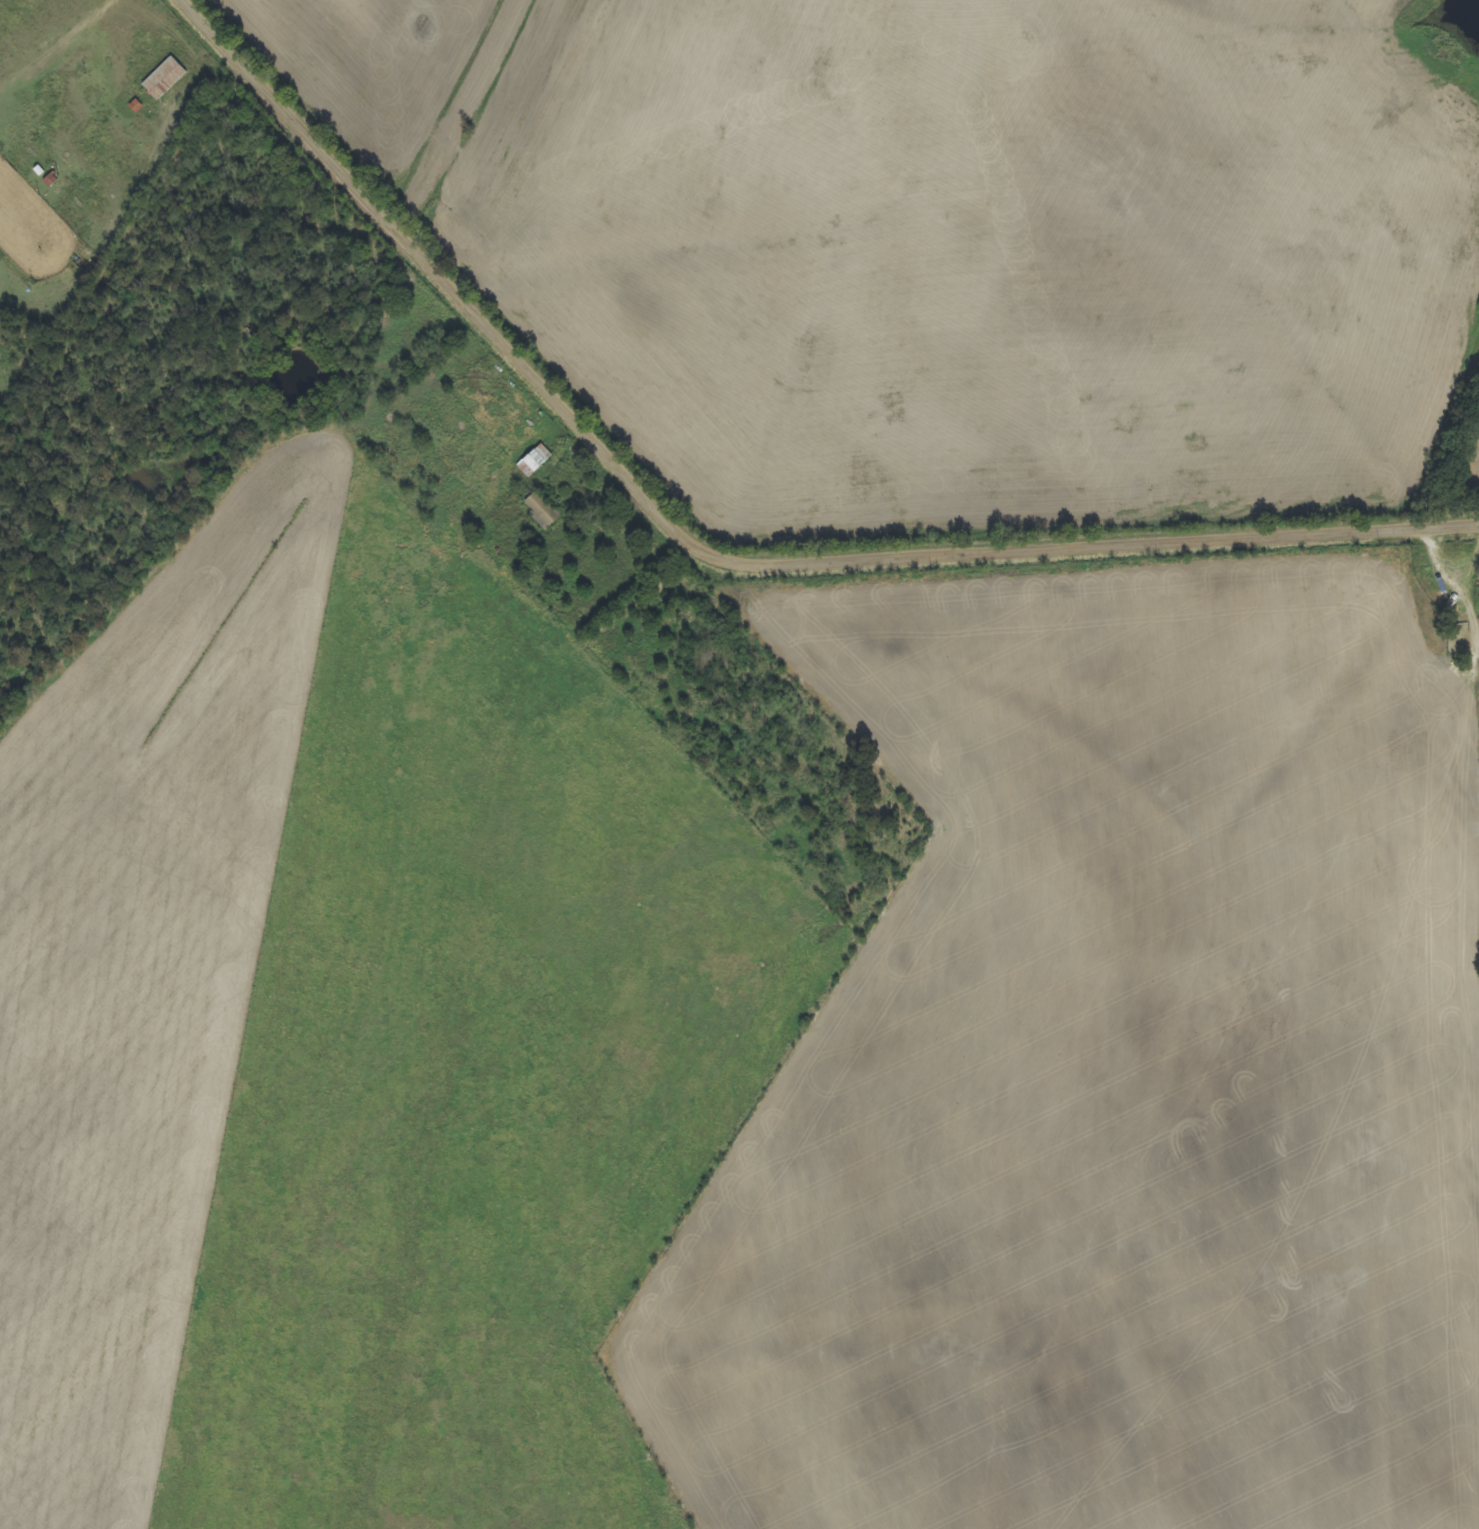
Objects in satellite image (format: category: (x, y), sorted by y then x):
building: (166, 79)
building: (537, 462)
building: (544, 512)
road: (714, 553)
road: (1382, 1376)

